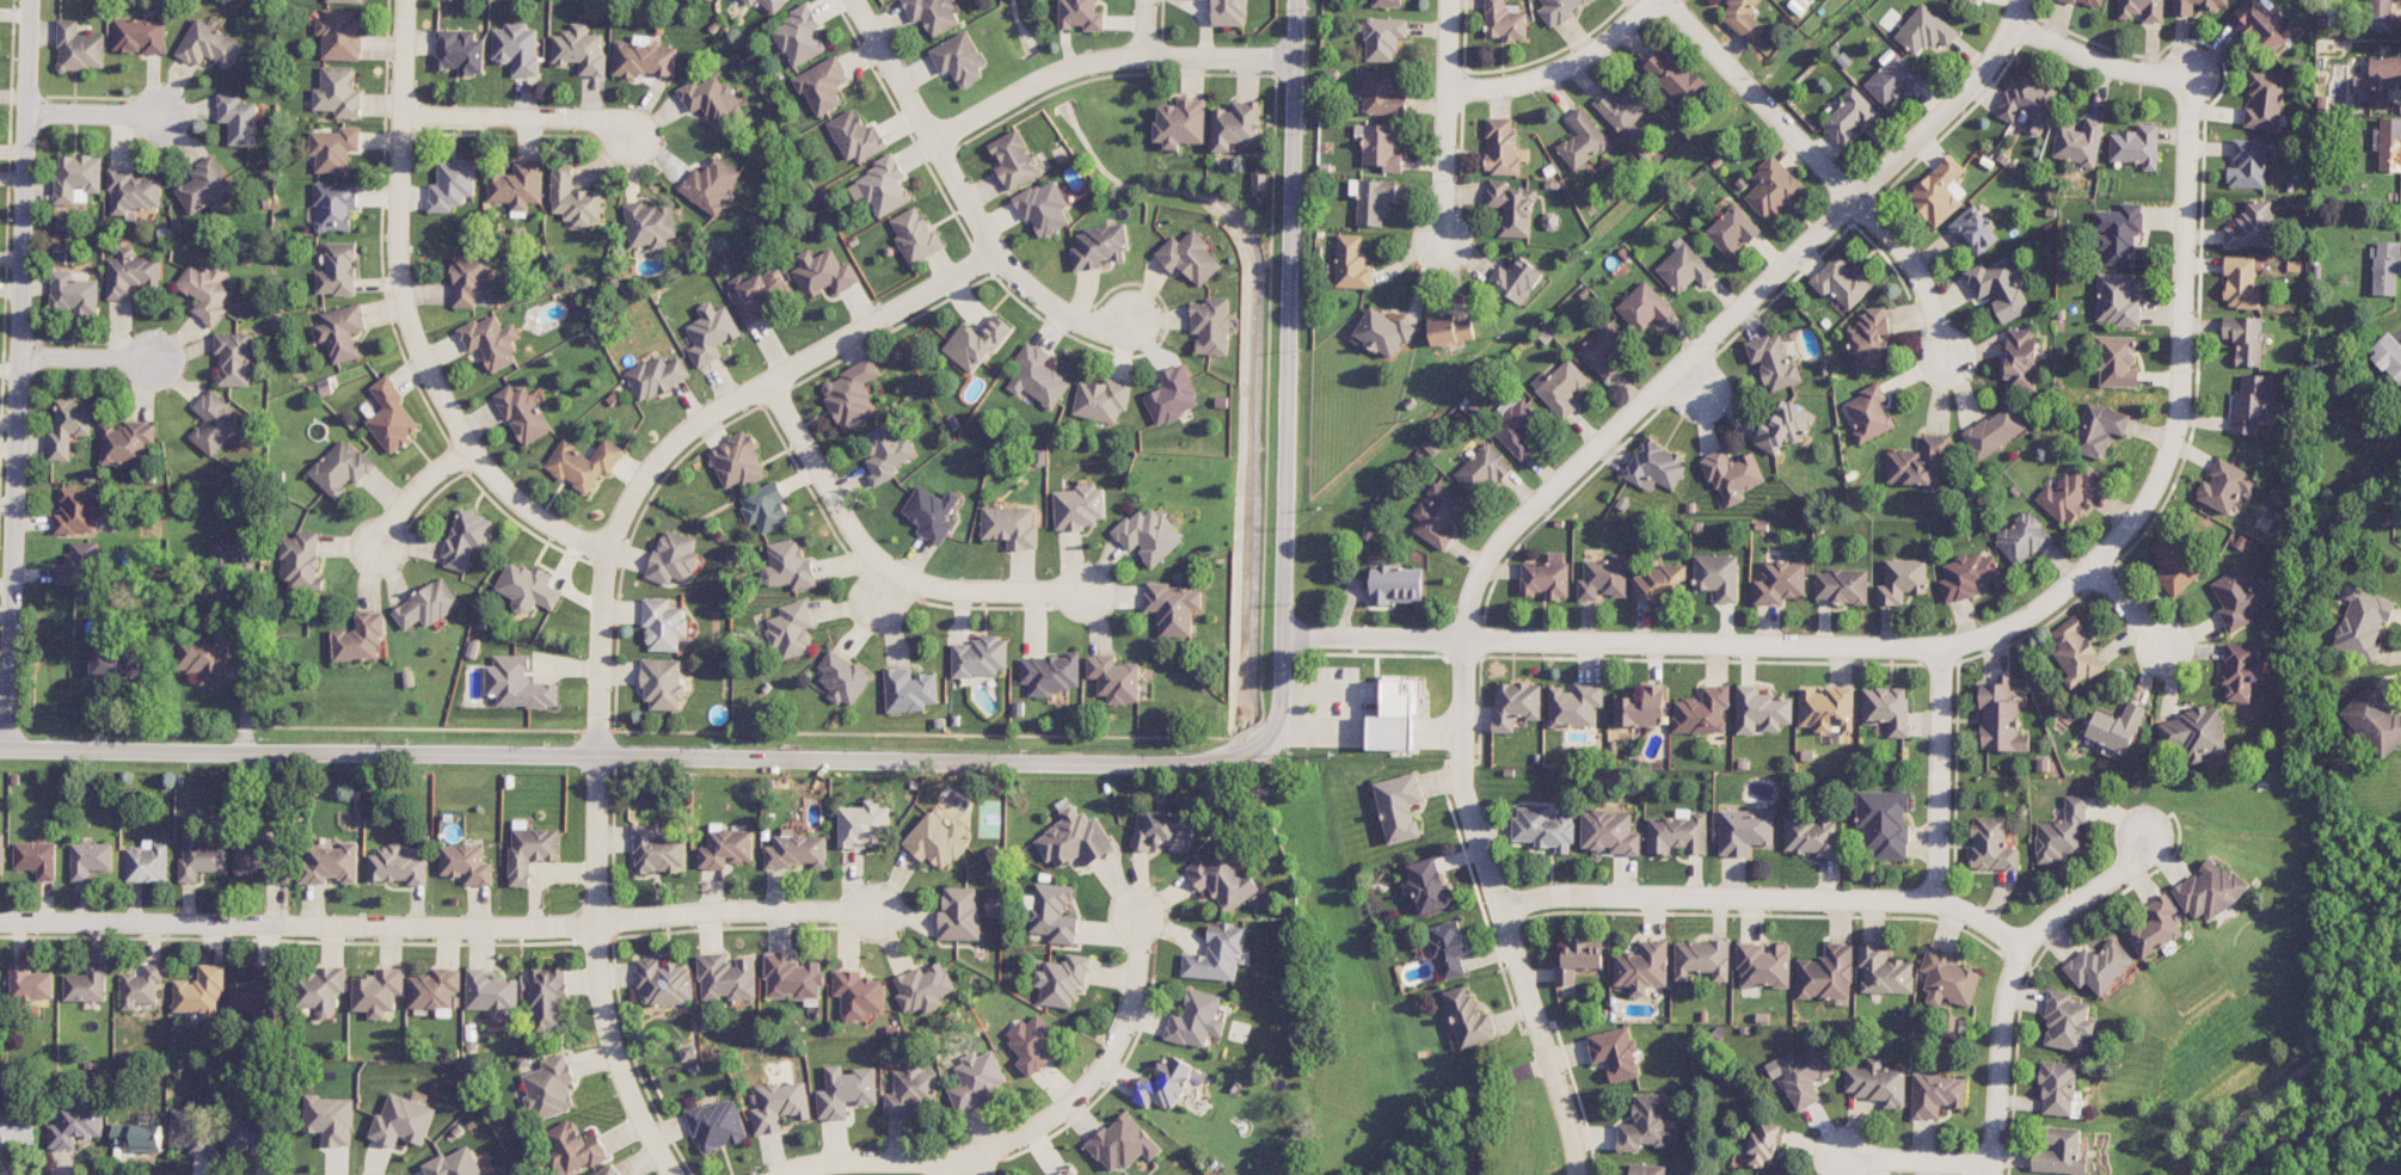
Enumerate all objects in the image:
building: (1977, 0)
building: (342, 1)
building: (750, 1)
building: (2082, 1)
building: (1386, 2)
building: (773, 5)
building: (2194, 5)
building: (1559, 10)
building: (2142, 10)
building: (1229, 12)
building: (932, 14)
building: (1081, 14)
building: (2381, 14)
building: (1743, 19)
building: (1504, 20)
building: (2265, 24)
road: (1146, 27)
building: (1924, 30)
building: (339, 33)
building: (139, 35)
building: (799, 36)
building: (1383, 38)
building: (208, 45)
building: (79, 48)
building: (516, 48)
building: (579, 49)
building: (459, 51)
building: (643, 59)
building: (959, 59)
road: (1104, 59)
road: (2096, 60)
road: (1560, 68)
building: (1672, 75)
building: (2379, 79)
building: (1891, 80)
building: (823, 85)
building: (337, 92)
building: (1382, 94)
building: (712, 100)
building: (2027, 101)
building: (2264, 101)
building: (1623, 109)
road: (110, 113)
road: (533, 117)
building: (238, 118)
building: (1850, 118)
road: (1447, 122)
building: (1236, 124)
road: (925, 125)
building: (855, 136)
building: (1583, 140)
building: (2078, 142)
building: (2388, 143)
building: (1381, 146)
building: (2136, 146)
building: (1502, 147)
building: (333, 148)
building: (1014, 160)
building: (2249, 162)
road: (1826, 168)
building: (76, 177)
building: (1259, 182)
building: (452, 184)
building: (711, 184)
building: (204, 185)
building: (517, 186)
building: (880, 186)
building: (1773, 187)
building: (134, 191)
building: (1939, 191)
building: (573, 197)
building: (1375, 199)
building: (334, 205)
building: (1044, 207)
building: (1512, 208)
building: (649, 224)
building: (2250, 226)
building: (1732, 230)
building: (1975, 230)
building: (2118, 232)
building: (914, 234)
building: (1100, 247)
building: (1189, 257)
building: (1352, 263)
building: (1684, 267)
building: (2384, 269)
building: (338, 270)
building: (823, 273)
building: (133, 275)
building: (471, 279)
building: (1516, 279)
building: (1842, 282)
building: (2241, 283)
building: (2000, 288)
building: (207, 291)
building: (73, 293)
building: (759, 293)
building: (2119, 299)
building: (1645, 307)
road: (1067, 313)
road: (880, 316)
road: (406, 318)
building: (1211, 325)
building: (1450, 330)
building: (342, 332)
building: (1383, 332)
building: (711, 333)
building: (2245, 338)
building: (1871, 339)
building: (975, 343)
building: (1603, 349)
building: (2389, 356)
road: (102, 358)
building: (233, 358)
building: (2021, 358)
building: (1773, 359)
road: (1288, 362)
building: (2117, 362)
road: (19, 374)
building: (656, 376)
building: (1037, 377)
road: (1695, 385)
building: (1561, 387)
building: (852, 394)
building: (1172, 395)
building: (1101, 399)
building: (2254, 404)
building: (522, 413)
building: (1869, 413)
building: (391, 416)
road: (2173, 420)
building: (214, 423)
building: (68, 426)
building: (1517, 426)
building: (1785, 426)
building: (2099, 429)
building: (1994, 431)
building: (127, 442)
road: (667, 445)
building: (886, 450)
building: (737, 461)
building: (583, 463)
building: (1920, 463)
building: (1654, 466)
building: (340, 467)
building: (1482, 469)
building: (1732, 475)
building: (2225, 486)
building: (2071, 494)
road: (407, 500)
building: (766, 507)
building: (1077, 507)
road: (1534, 509)
building: (76, 511)
building: (931, 512)
building: (1438, 515)
building: (1011, 525)
building: (1148, 535)
building: (466, 539)
building: (2022, 539)
building: (82, 554)
building: (673, 559)
building: (301, 561)
building: (788, 565)
building: (2173, 565)
road: (890, 567)
building: (219, 574)
building: (1718, 576)
building: (1966, 576)
building: (1547, 577)
building: (1603, 578)
building: (1779, 579)
building: (1902, 580)
building: (1658, 583)
building: (1396, 585)
building: (1842, 585)
building: (527, 587)
road: (890, 593)
building: (2239, 598)
building: (426, 605)
building: (1173, 608)
road: (2131, 613)
building: (2362, 622)
building: (663, 625)
building: (791, 629)
building: (360, 639)
road: (1611, 645)
building: (2076, 653)
building: (203, 656)
building: (980, 657)
building: (116, 663)
building: (2242, 671)
building: (1050, 673)
building: (842, 677)
building: (1114, 678)
building: (517, 683)
building: (662, 683)
building: (909, 690)
building: (1576, 703)
building: (1516, 705)
building: (1641, 707)
building: (1828, 709)
building: (1887, 709)
building: (1702, 710)
building: (1761, 710)
building: (1396, 712)
building: (2001, 718)
building: (2375, 719)
building: (2116, 727)
building: (2197, 733)
road: (645, 753)
road: (1938, 774)
building: (1399, 806)
building: (1883, 823)
building: (862, 824)
building: (1545, 828)
building: (2063, 830)
building: (1161, 831)
building: (1744, 831)
building: (1610, 832)
building: (1677, 833)
building: (1811, 836)
building: (1075, 839)
building: (937, 841)
building: (1991, 844)
building: (726, 849)
building: (659, 850)
building: (1, 851)
building: (530, 851)
building: (794, 851)
building: (36, 859)
building: (90, 859)
building: (202, 859)
building: (260, 859)
building: (147, 862)
building: (330, 863)
building: (466, 863)
building: (398, 866)
road: (596, 868)
building: (1223, 880)
building: (1429, 885)
road: (2089, 887)
building: (2211, 890)
road: (1760, 893)
road: (748, 909)
building: (959, 913)
building: (1054, 913)
road: (297, 923)
building: (2155, 927)
building: (1450, 948)
building: (1217, 954)
building: (1701, 959)
building: (1578, 960)
building: (1763, 964)
building: (2099, 966)
building: (1642, 967)
building: (1884, 971)
building: (1826, 973)
building: (726, 977)
building: (792, 978)
building: (1947, 978)
building: (1062, 980)
building: (29, 982)
building: (665, 982)
building: (85, 984)
building: (140, 986)
building: (923, 988)
building: (201, 990)
building: (321, 990)
building: (435, 990)
building: (377, 991)
building: (260, 992)
building: (492, 993)
building: (858, 993)
building: (547, 997)
building: (1196, 1019)
building: (1469, 1019)
building: (2067, 1021)
building: (1032, 1042)
building: (689, 1052)
building: (1615, 1052)
road: (1997, 1057)
road: (2301, 1070)
building: (1800, 1075)
building: (977, 1078)
building: (1877, 1082)
building: (1167, 1083)
building: (549, 1088)
building: (2057, 1088)
building: (910, 1089)
building: (845, 1091)
building: (1935, 1095)
road: (1486, 1102)
building: (779, 1106)
building: (330, 1119)
building: (403, 1121)
road: (1036, 1124)
building: (1646, 1124)
building: (74, 1125)
building: (717, 1125)
building: (17, 1130)
building: (253, 1133)
building: (139, 1136)
building: (1123, 1143)
building: (1766, 1144)
building: (572, 1148)
building: (2061, 1152)
road: (1909, 1159)
building: (455, 1163)
road: (960, 1165)
building: (1646, 1169)
building: (608, 1171)
building: (1068, 1171)

